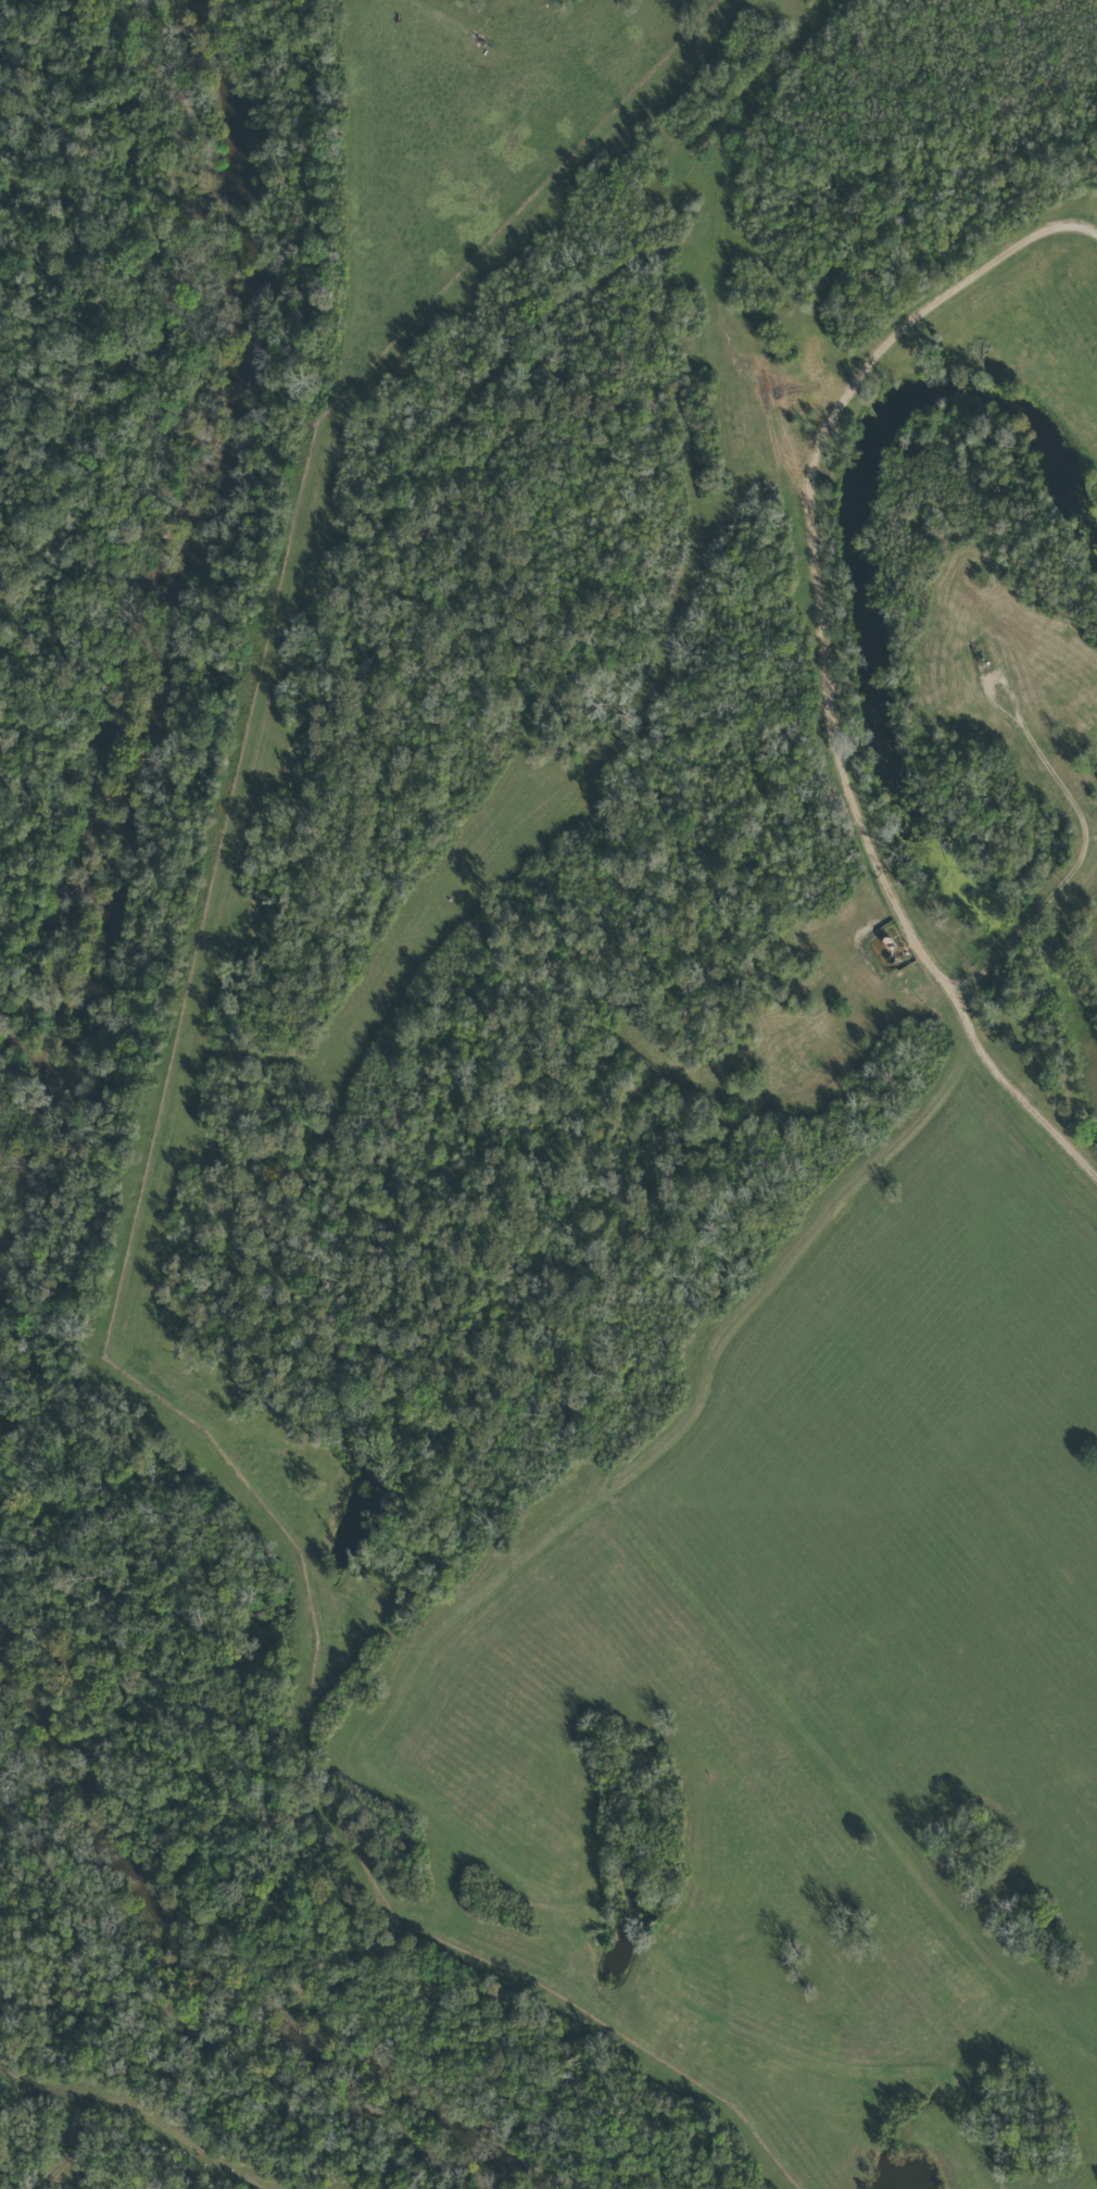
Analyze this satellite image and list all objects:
road: (433, 14)
road: (817, 390)
road: (325, 571)
road: (673, 588)
river: (177, 640)
road: (1012, 649)
road: (845, 808)
road: (1080, 860)
river: (238, 1978)

